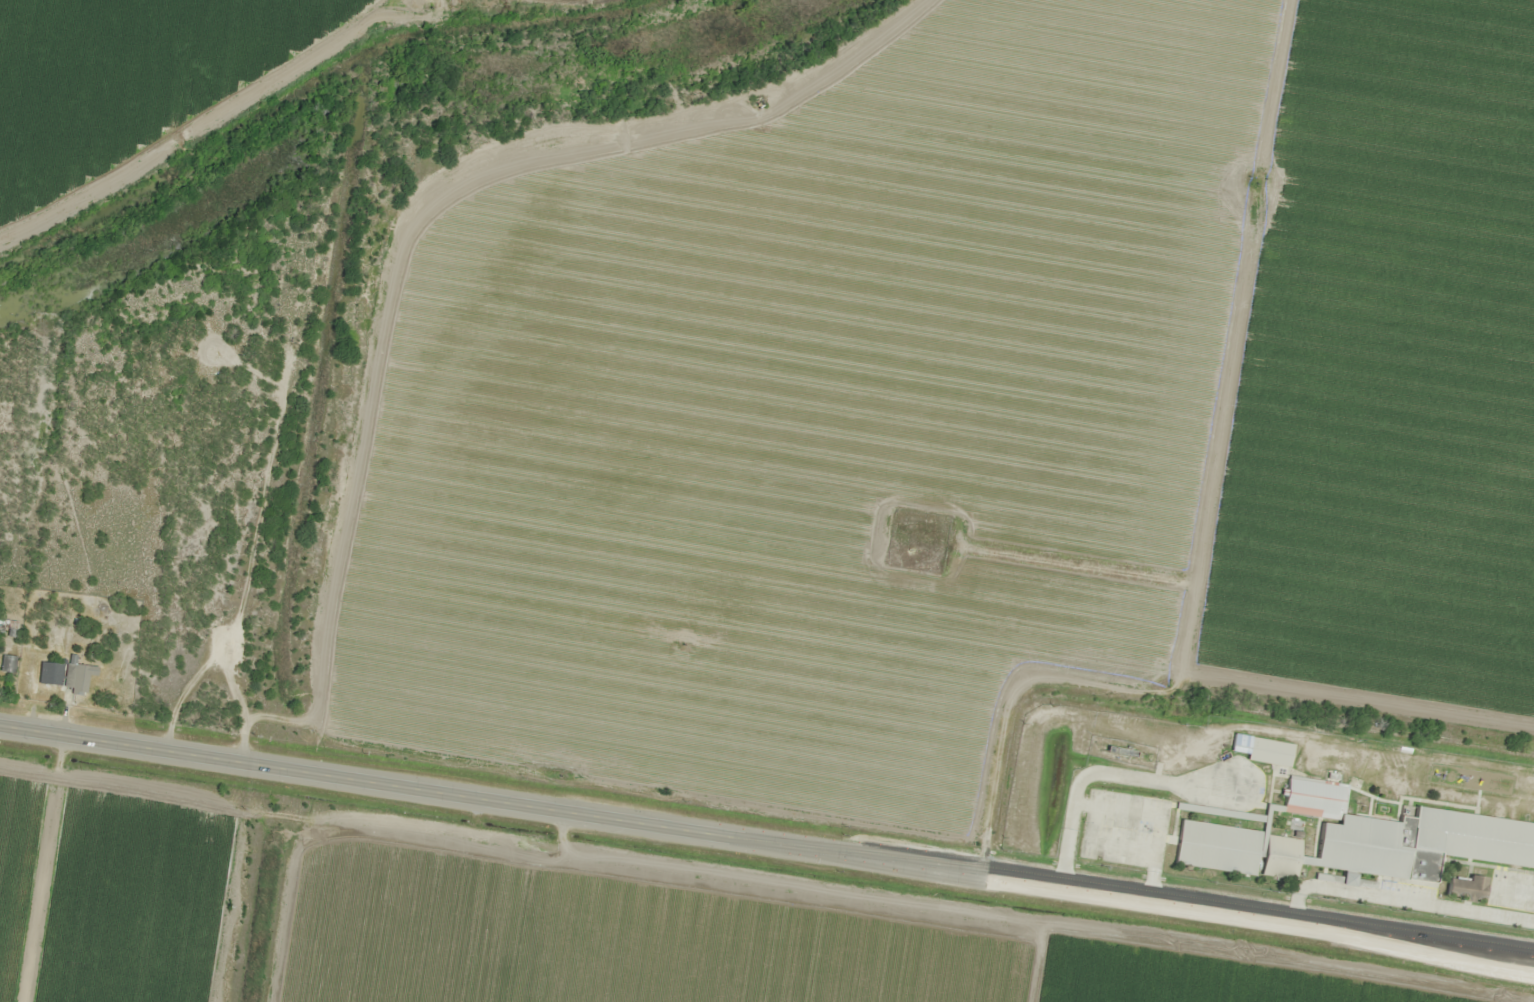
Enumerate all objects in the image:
road: (712, 116)
road: (324, 355)
road: (32, 729)
building: (1267, 747)
building: (1350, 834)
road: (799, 845)

